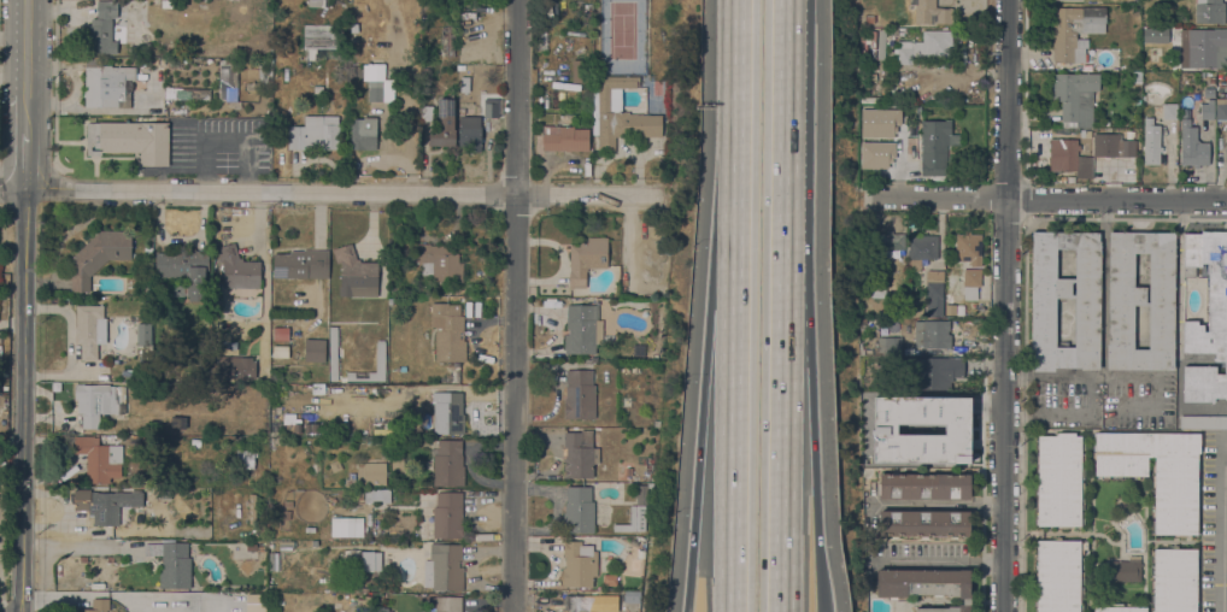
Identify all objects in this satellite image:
building: (319, 2)
building: (166, 5)
building: (1210, 11)
building: (930, 12)
building: (869, 19)
building: (106, 29)
building: (902, 31)
building: (1074, 31)
building: (1153, 34)
building: (541, 35)
park: (622, 37)
building: (319, 40)
building: (450, 40)
building: (881, 45)
building: (924, 46)
road: (25, 48)
building: (1203, 48)
building: (218, 52)
building: (252, 53)
road: (734, 54)
building: (263, 61)
building: (149, 63)
building: (1078, 69)
building: (580, 71)
building: (1137, 77)
building: (228, 80)
building: (378, 83)
building: (110, 84)
building: (464, 84)
building: (187, 93)
building: (1208, 93)
road: (54, 95)
building: (462, 98)
building: (1075, 98)
building: (489, 100)
building: (1221, 108)
building: (1207, 110)
building: (1169, 111)
building: (425, 113)
building: (618, 113)
road: (25, 114)
building: (444, 124)
road: (782, 130)
building: (470, 133)
building: (315, 134)
building: (363, 134)
building: (564, 139)
building: (129, 141)
road: (227, 142)
building: (1151, 142)
building: (933, 146)
building: (1192, 146)
parking lot: (216, 147)
building: (1108, 148)
building: (1127, 148)
building: (1063, 154)
road: (25, 161)
road: (12, 192)
road: (348, 194)
road: (1043, 199)
building: (888, 243)
building: (968, 248)
building: (921, 249)
building: (98, 257)
building: (586, 259)
building: (440, 263)
building: (301, 264)
building: (237, 269)
building: (184, 271)
building: (356, 273)
building: (970, 277)
building: (877, 289)
building: (934, 293)
building: (1140, 301)
road: (515, 306)
road: (1005, 306)
building: (863, 311)
building: (1207, 317)
building: (862, 322)
building: (1086, 322)
building: (281, 324)
building: (581, 329)
building: (88, 330)
building: (448, 333)
building: (143, 334)
building: (932, 334)
road: (708, 343)
building: (890, 346)
building: (315, 349)
building: (333, 353)
building: (381, 357)
road: (733, 360)
building: (235, 367)
building: (624, 369)
building: (635, 369)
building: (937, 372)
road: (810, 377)
road: (1115, 377)
building: (580, 395)
building: (231, 400)
road: (23, 401)
building: (905, 401)
building: (94, 402)
building: (252, 410)
building: (448, 413)
road: (1065, 414)
building: (947, 416)
building: (1203, 422)
building: (393, 428)
building: (263, 430)
road: (780, 436)
building: (288, 441)
building: (195, 442)
building: (580, 454)
building: (99, 459)
building: (245, 459)
building: (398, 460)
building: (448, 464)
building: (335, 466)
building: (371, 472)
building: (1156, 472)
building: (1059, 479)
building: (924, 486)
building: (641, 493)
building: (359, 495)
building: (377, 495)
building: (108, 505)
building: (299, 505)
road: (939, 505)
building: (251, 510)
building: (579, 511)
building: (447, 516)
building: (633, 522)
building: (924, 523)
road: (1222, 525)
building: (346, 526)
building: (310, 530)
building: (287, 545)
building: (254, 547)
road: (816, 553)
building: (352, 557)
building: (83, 558)
building: (111, 559)
building: (272, 561)
building: (371, 561)
road: (939, 563)
building: (171, 564)
building: (579, 564)
building: (444, 567)
building: (1122, 571)
building: (1058, 576)
building: (1174, 579)
building: (924, 585)
building: (271, 587)
road: (688, 595)
building: (632, 596)
building: (610, 598)
building: (365, 601)
building: (254, 602)
building: (445, 604)
building: (579, 604)
building: (95, 606)
building: (381, 608)
building: (1119, 608)
road: (818, 610)

